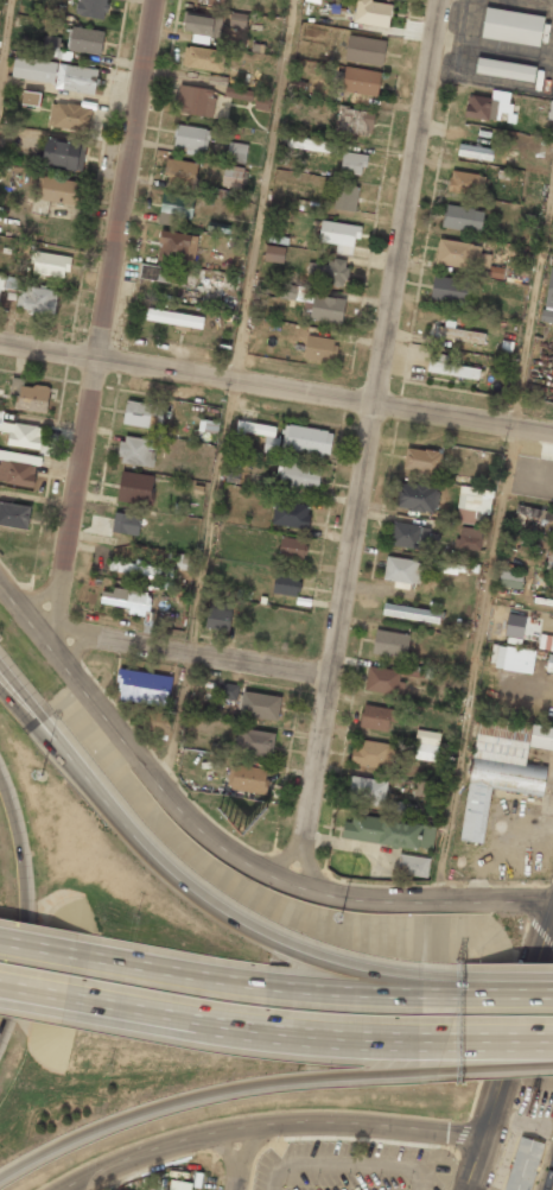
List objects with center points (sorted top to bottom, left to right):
building: (211, 1)
building: (91, 8)
building: (371, 12)
building: (237, 20)
building: (198, 24)
building: (511, 26)
road: (6, 40)
building: (85, 40)
building: (364, 50)
building: (202, 58)
building: (33, 69)
building: (504, 69)
building: (75, 78)
building: (361, 81)
building: (239, 93)
building: (31, 97)
building: (196, 101)
building: (490, 107)
building: (70, 116)
building: (355, 121)
building: (191, 139)
building: (312, 145)
building: (236, 152)
building: (475, 152)
building: (63, 154)
building: (352, 163)
building: (180, 172)
building: (233, 176)
building: (466, 183)
building: (57, 190)
building: (345, 197)
building: (174, 209)
building: (463, 219)
building: (339, 235)
building: (177, 247)
building: (273, 253)
building: (462, 254)
building: (51, 265)
building: (328, 271)
building: (163, 274)
building: (7, 283)
building: (449, 289)
building: (294, 293)
building: (37, 299)
building: (548, 299)
building: (326, 309)
road: (102, 318)
building: (173, 318)
building: (457, 334)
building: (319, 348)
building: (450, 367)
road: (275, 385)
building: (28, 397)
road: (231, 398)
building: (142, 414)
building: (20, 433)
building: (260, 435)
building: (306, 439)
road: (367, 443)
building: (136, 451)
building: (421, 461)
building: (18, 467)
building: (298, 476)
building: (134, 487)
building: (417, 498)
building: (473, 506)
building: (534, 513)
building: (290, 514)
building: (14, 515)
building: (126, 523)
building: (403, 534)
road: (494, 537)
building: (468, 538)
building: (292, 547)
building: (552, 566)
building: (445, 568)
building: (136, 569)
building: (401, 569)
building: (509, 580)
building: (285, 584)
building: (127, 600)
road: (24, 607)
building: (409, 613)
building: (218, 614)
building: (514, 626)
building: (546, 643)
building: (390, 644)
road: (187, 654)
building: (517, 660)
building: (549, 664)
building: (381, 681)
building: (144, 688)
building: (229, 691)
building: (377, 717)
building: (255, 724)
building: (541, 736)
building: (426, 745)
building: (373, 754)
road: (81, 760)
street lamp: (40, 772)
building: (246, 778)
road: (78, 780)
building: (366, 791)
building: (401, 808)
building: (473, 818)
building: (387, 828)
road: (250, 863)
building: (413, 866)
road: (23, 904)
road: (49, 950)
road: (304, 954)
road: (282, 992)
road: (44, 996)
road: (513, 1000)
road: (42, 1011)
road: (135, 1013)
road: (133, 1019)
road: (519, 1032)
road: (325, 1039)
road: (511, 1043)
road: (507, 1056)
road: (223, 1093)
road: (287, 1123)
road: (235, 1158)
road: (342, 1163)
parking lot: (350, 1164)
building: (523, 1165)
road: (475, 1166)
railway: (548, 1177)
road: (78, 1180)
road: (94, 1180)
building: (196, 1180)
building: (178, 1185)

